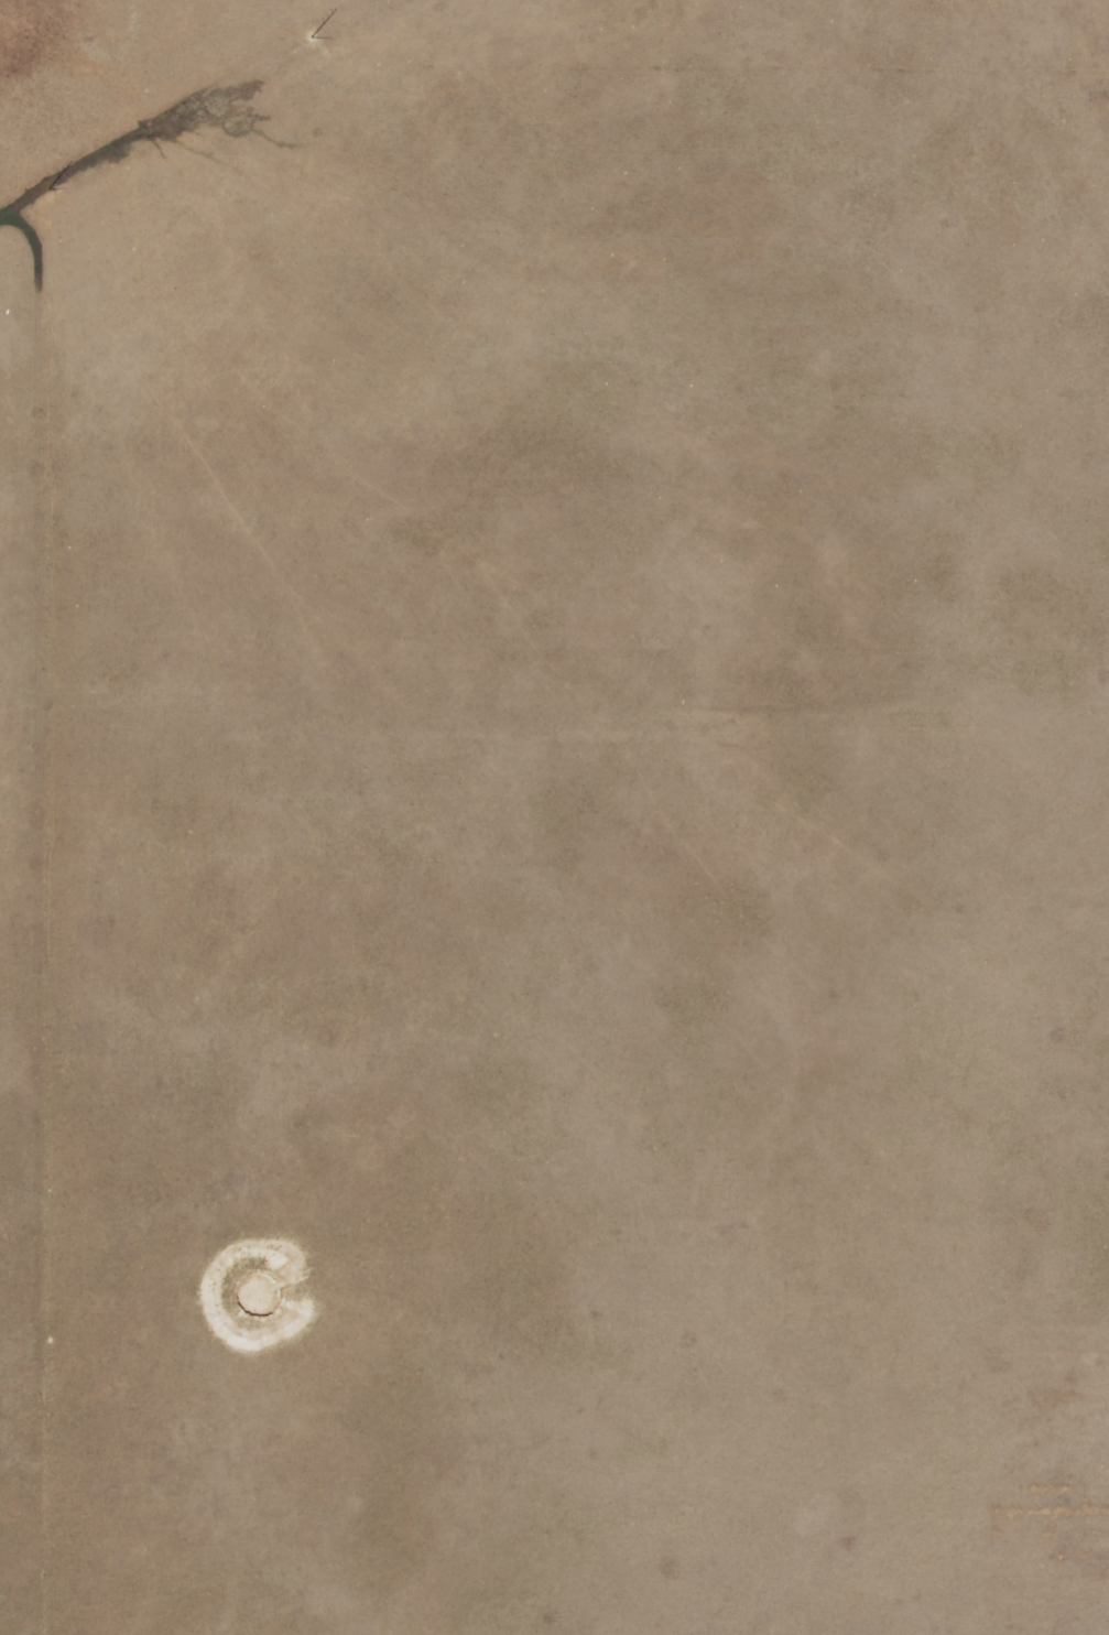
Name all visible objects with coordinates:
power tower: (144, 124)

